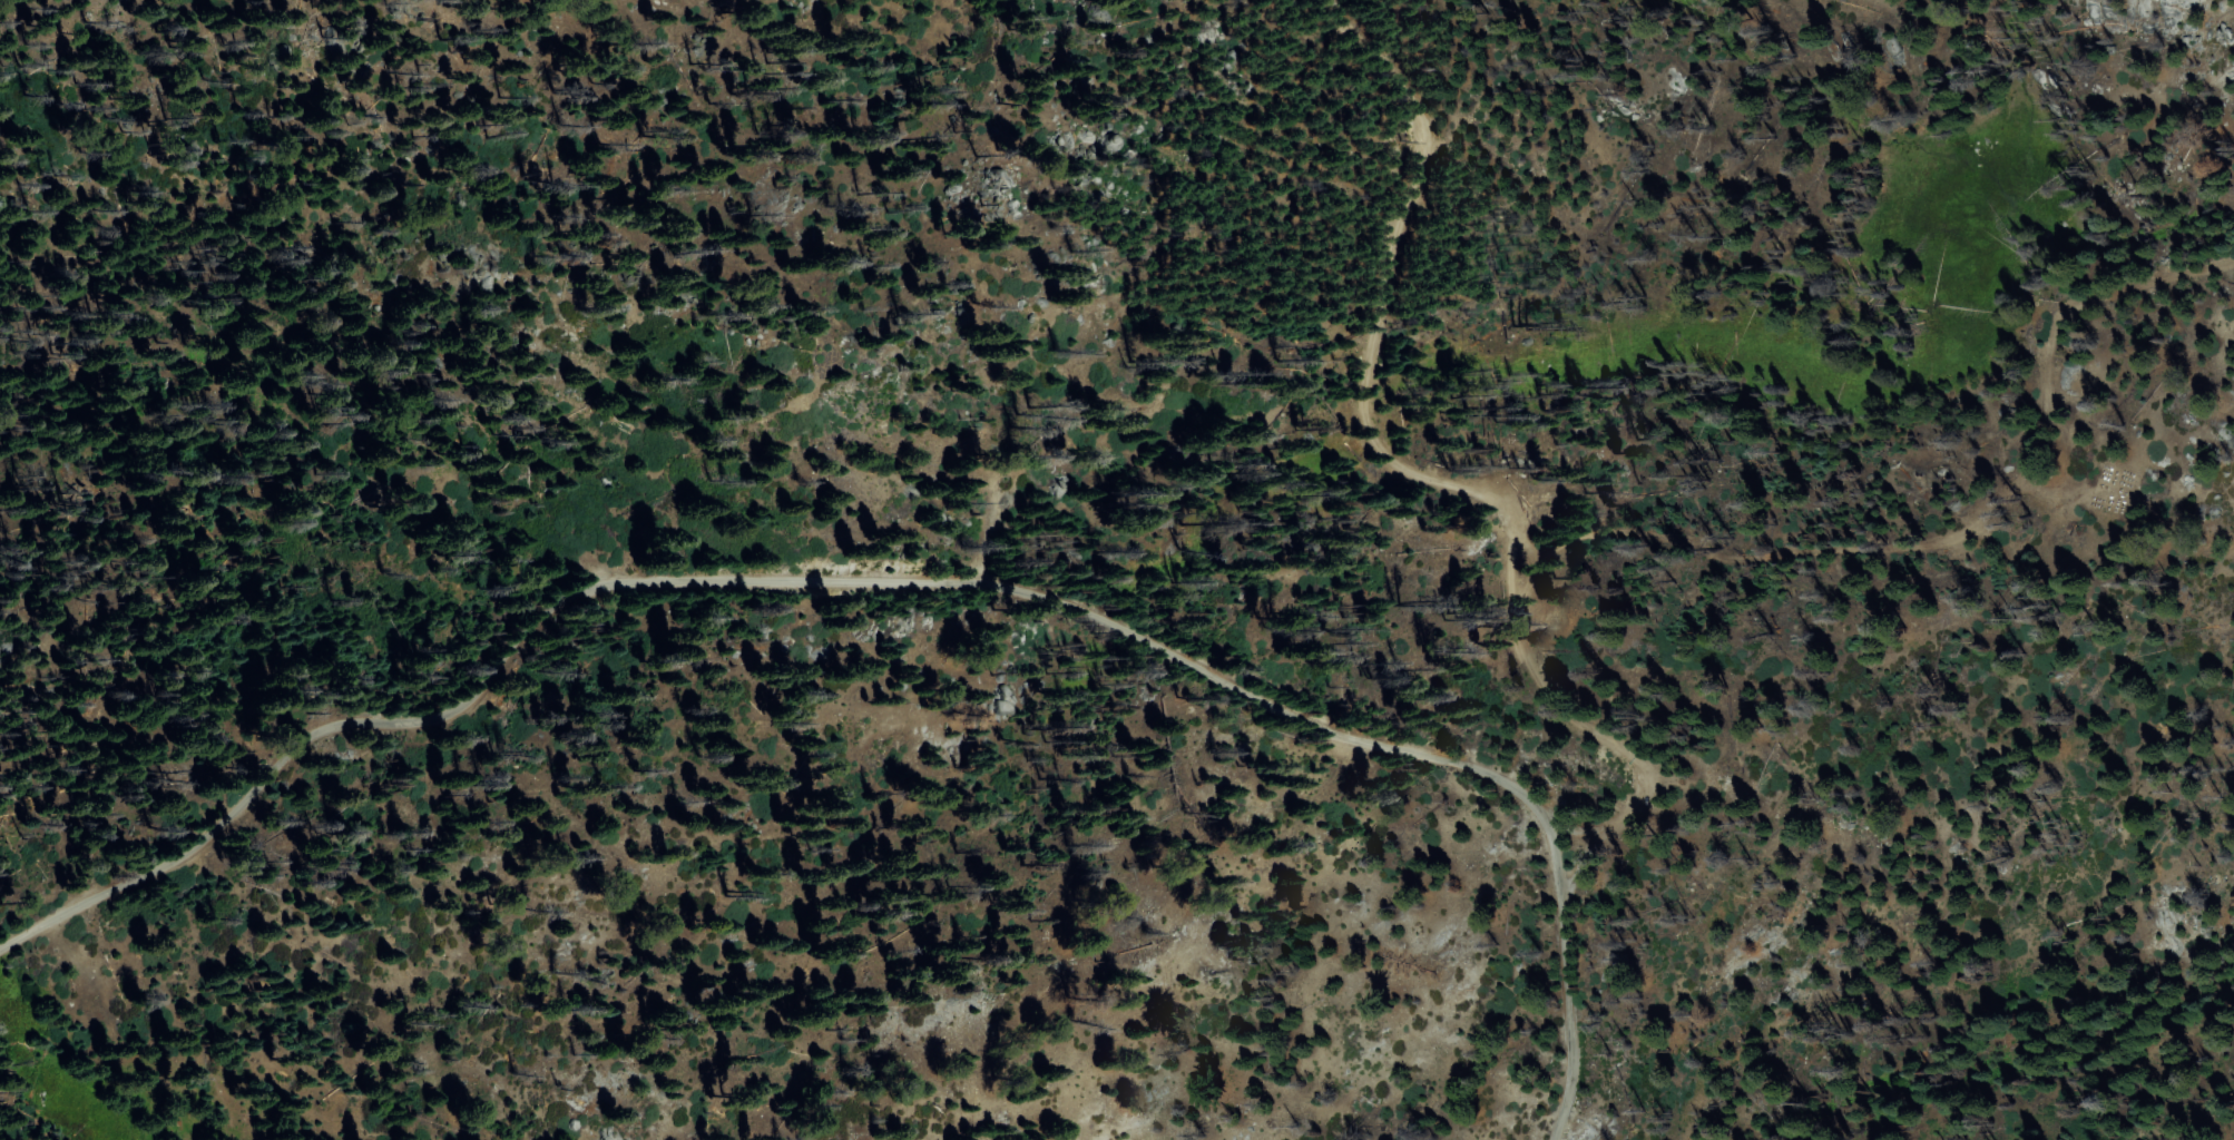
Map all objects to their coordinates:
road: (1428, 480)
road: (1958, 560)
road: (903, 581)
road: (1570, 831)

